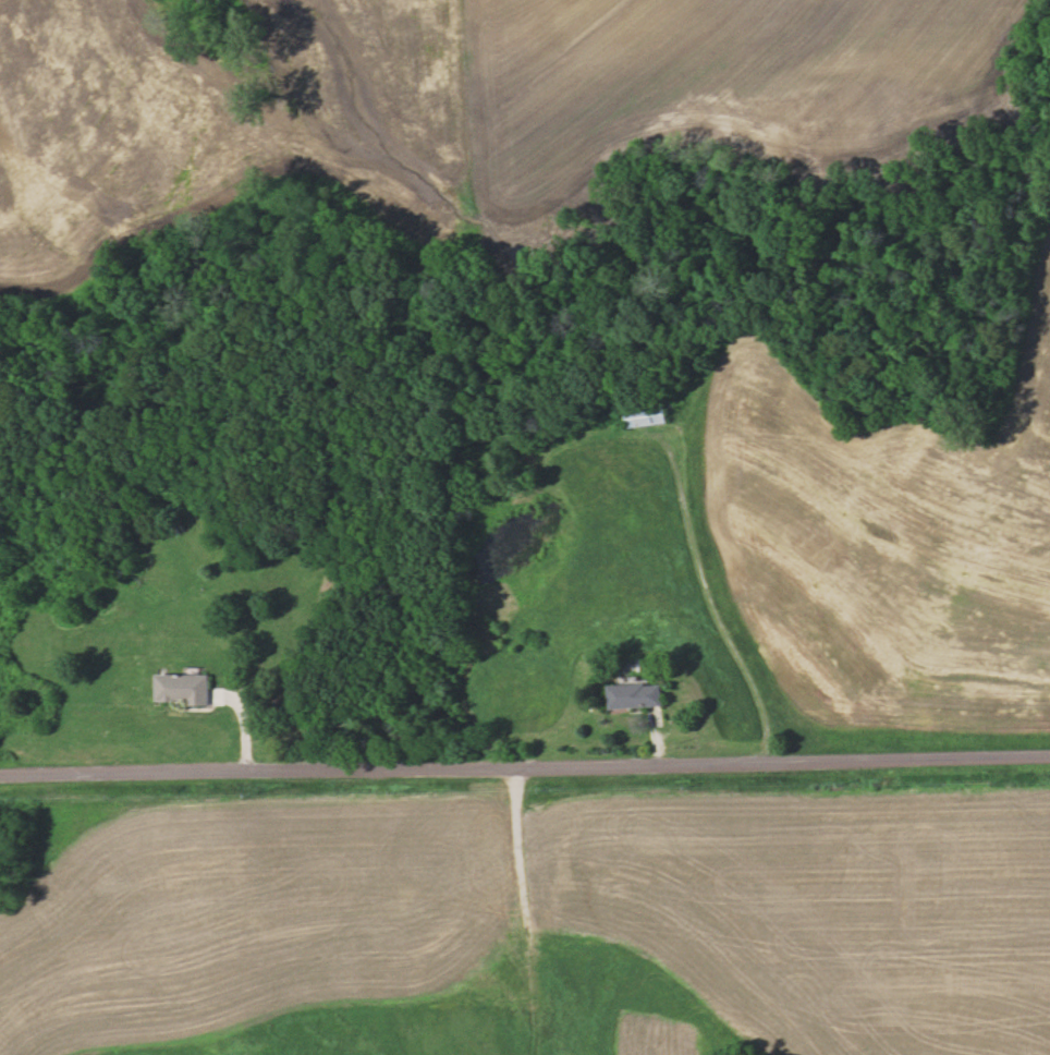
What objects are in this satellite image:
building: (647, 415)
road: (713, 603)
building: (183, 689)
building: (638, 696)
road: (524, 764)

